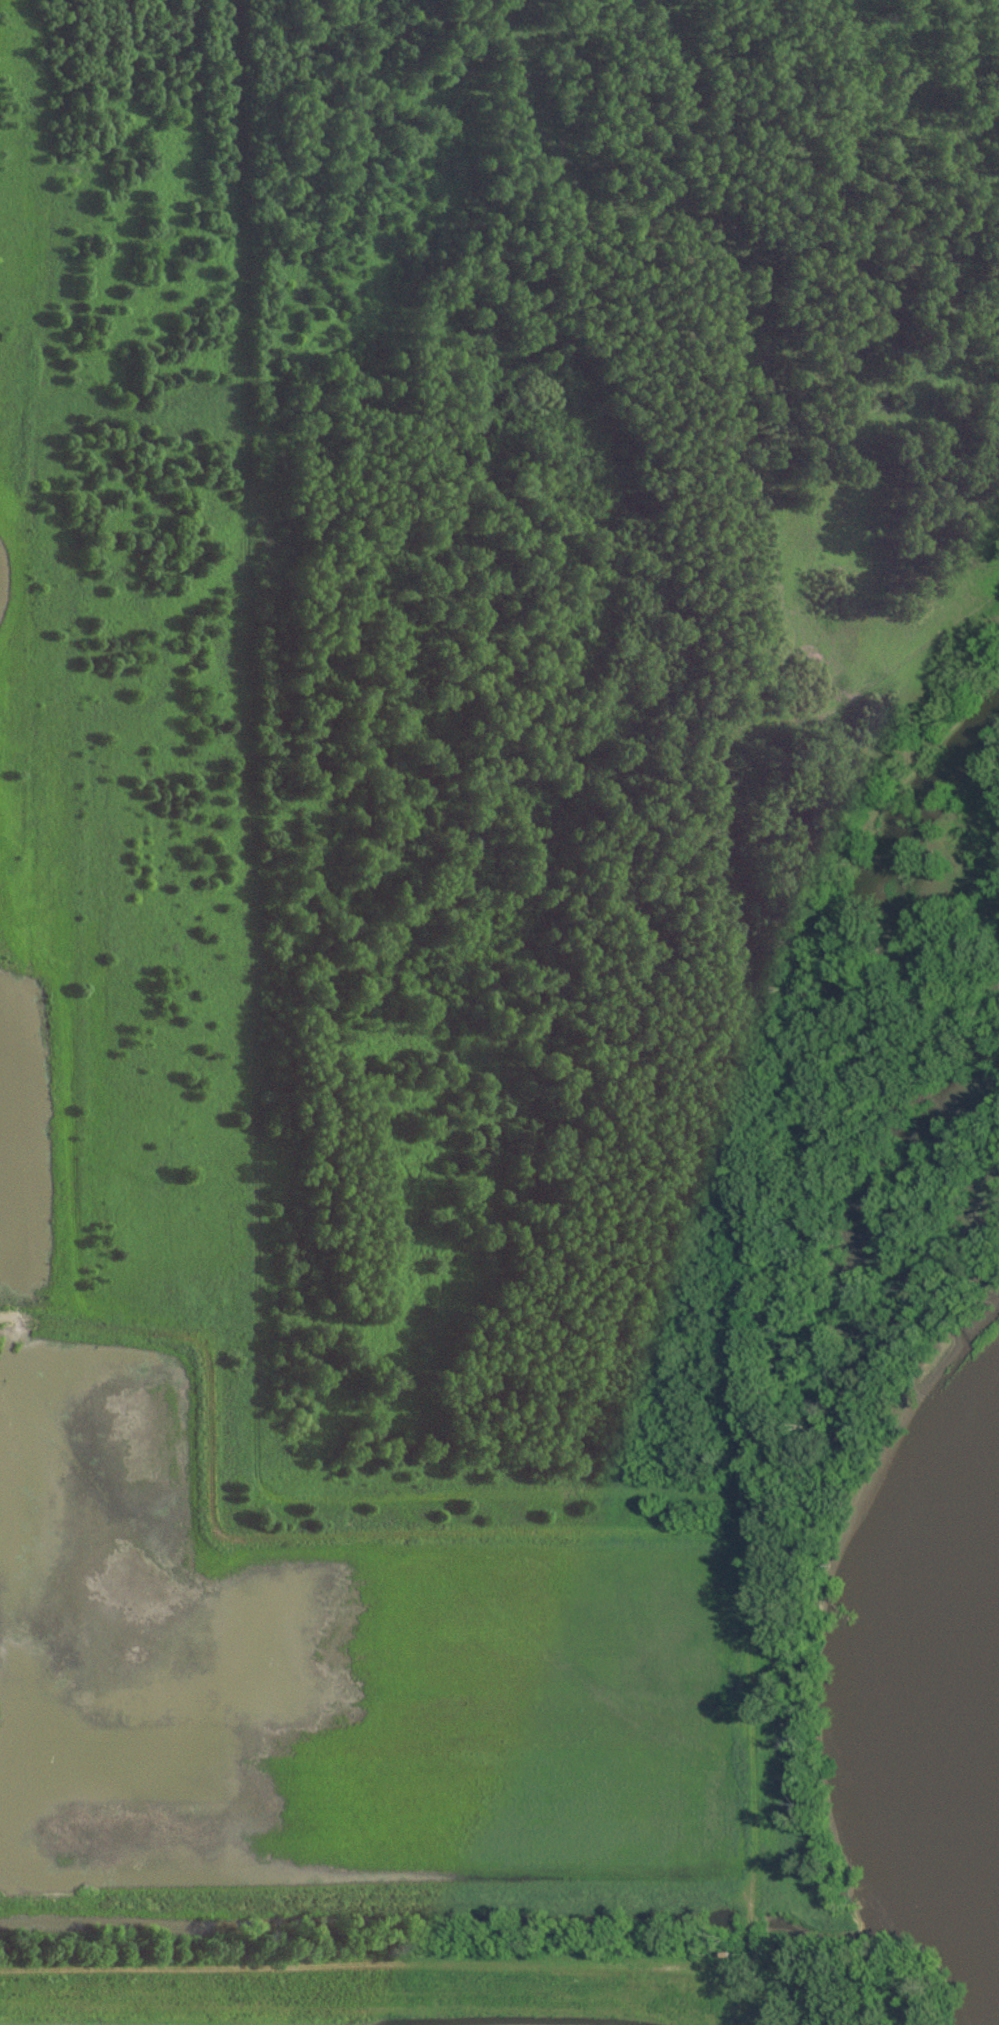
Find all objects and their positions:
road: (400, 1974)

